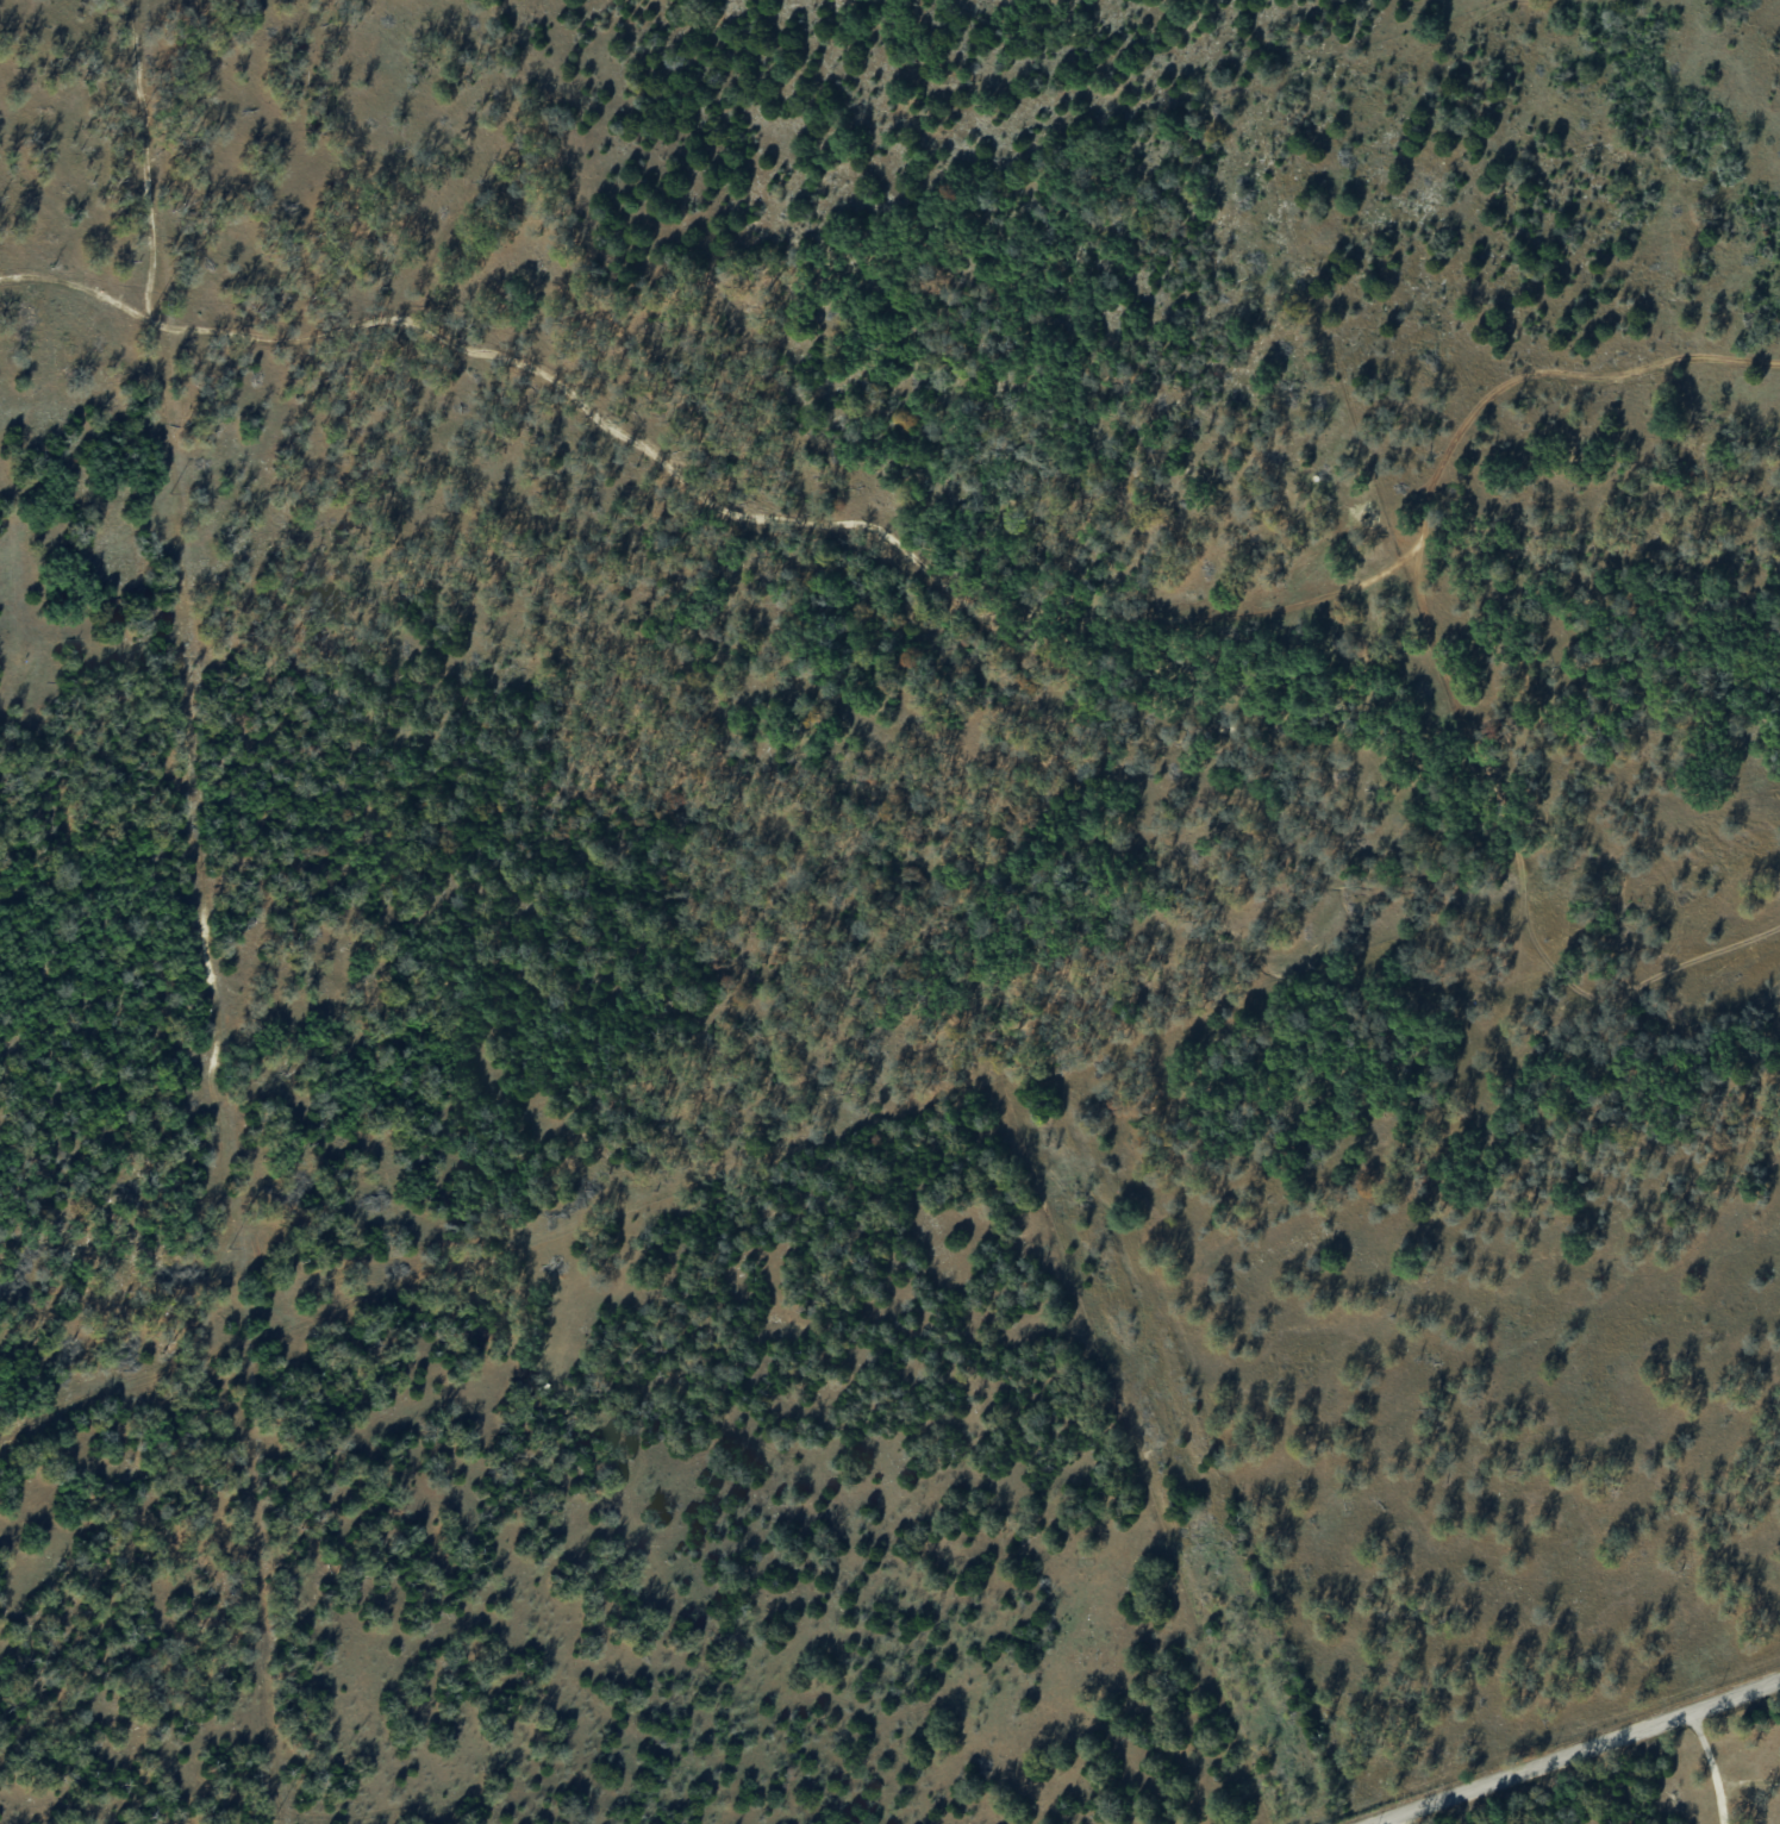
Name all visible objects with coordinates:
road: (1580, 1753)
road: (1712, 1767)
road: (1391, 1822)

